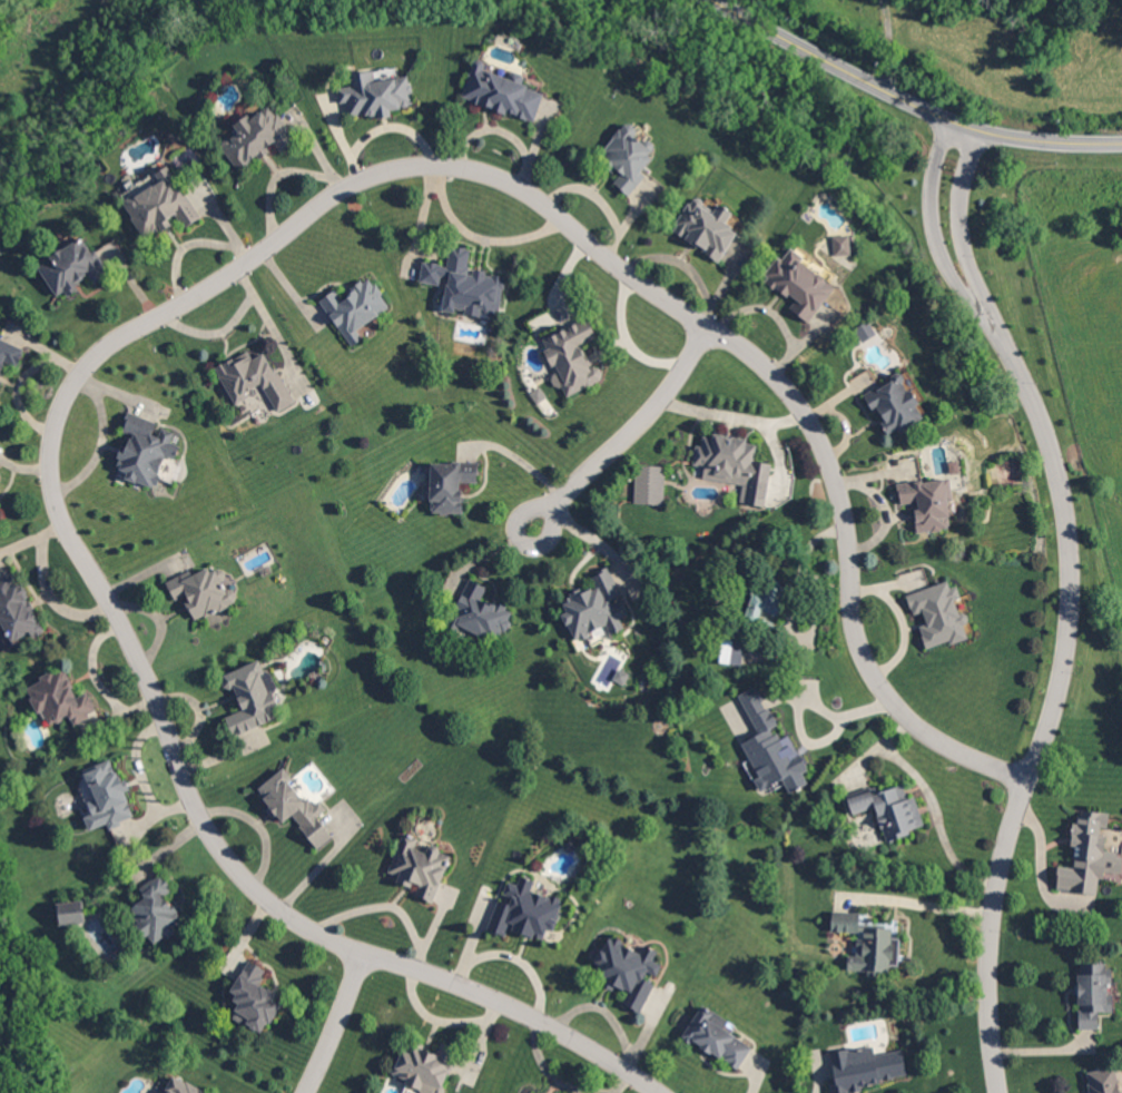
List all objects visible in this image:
building: (502, 92)
building: (376, 93)
road: (908, 100)
building: (256, 136)
building: (628, 157)
building: (160, 203)
road: (931, 223)
road: (957, 223)
building: (706, 227)
building: (843, 243)
building: (71, 267)
building: (465, 284)
building: (800, 285)
road: (209, 292)
building: (355, 307)
building: (9, 354)
building: (571, 356)
building: (254, 378)
building: (894, 403)
road: (629, 435)
road: (96, 449)
building: (145, 450)
building: (735, 465)
building: (449, 484)
building: (649, 484)
building: (929, 502)
road: (809, 569)
building: (203, 591)
building: (764, 604)
building: (596, 607)
building: (17, 609)
building: (482, 612)
building: (939, 613)
building: (731, 651)
building: (621, 676)
building: (60, 698)
road: (799, 700)
road: (1054, 700)
building: (770, 748)
building: (107, 796)
road: (929, 804)
building: (295, 806)
building: (890, 809)
building: (1087, 855)
building: (420, 866)
road: (921, 905)
building: (157, 909)
building: (525, 910)
building: (70, 912)
building: (869, 944)
building: (629, 971)
building: (1094, 993)
building: (254, 998)
road: (336, 1024)
building: (717, 1036)
building: (425, 1066)
building: (866, 1067)
building: (1102, 1081)
building: (183, 1086)
building: (528, 1091)

